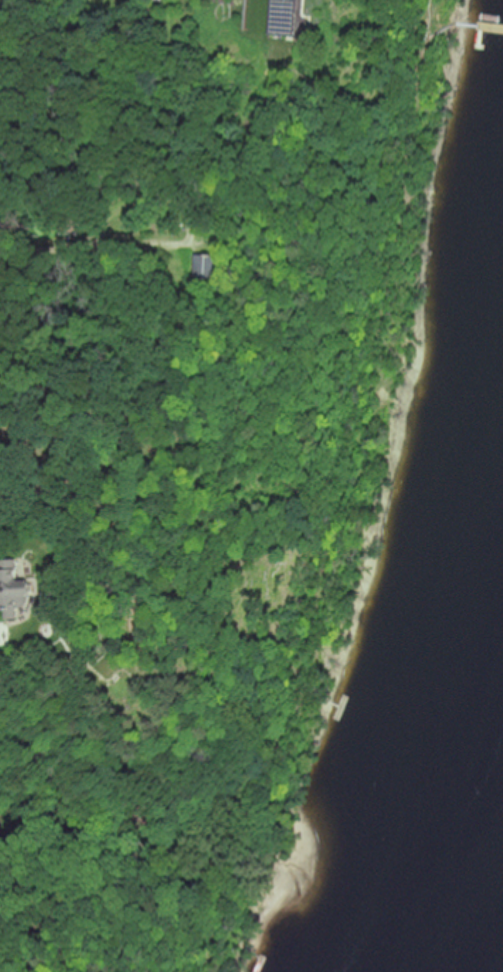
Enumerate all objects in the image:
building: (287, 17)
building: (70, 220)
road: (97, 235)
building: (209, 270)
building: (16, 588)
river: (490, 940)

